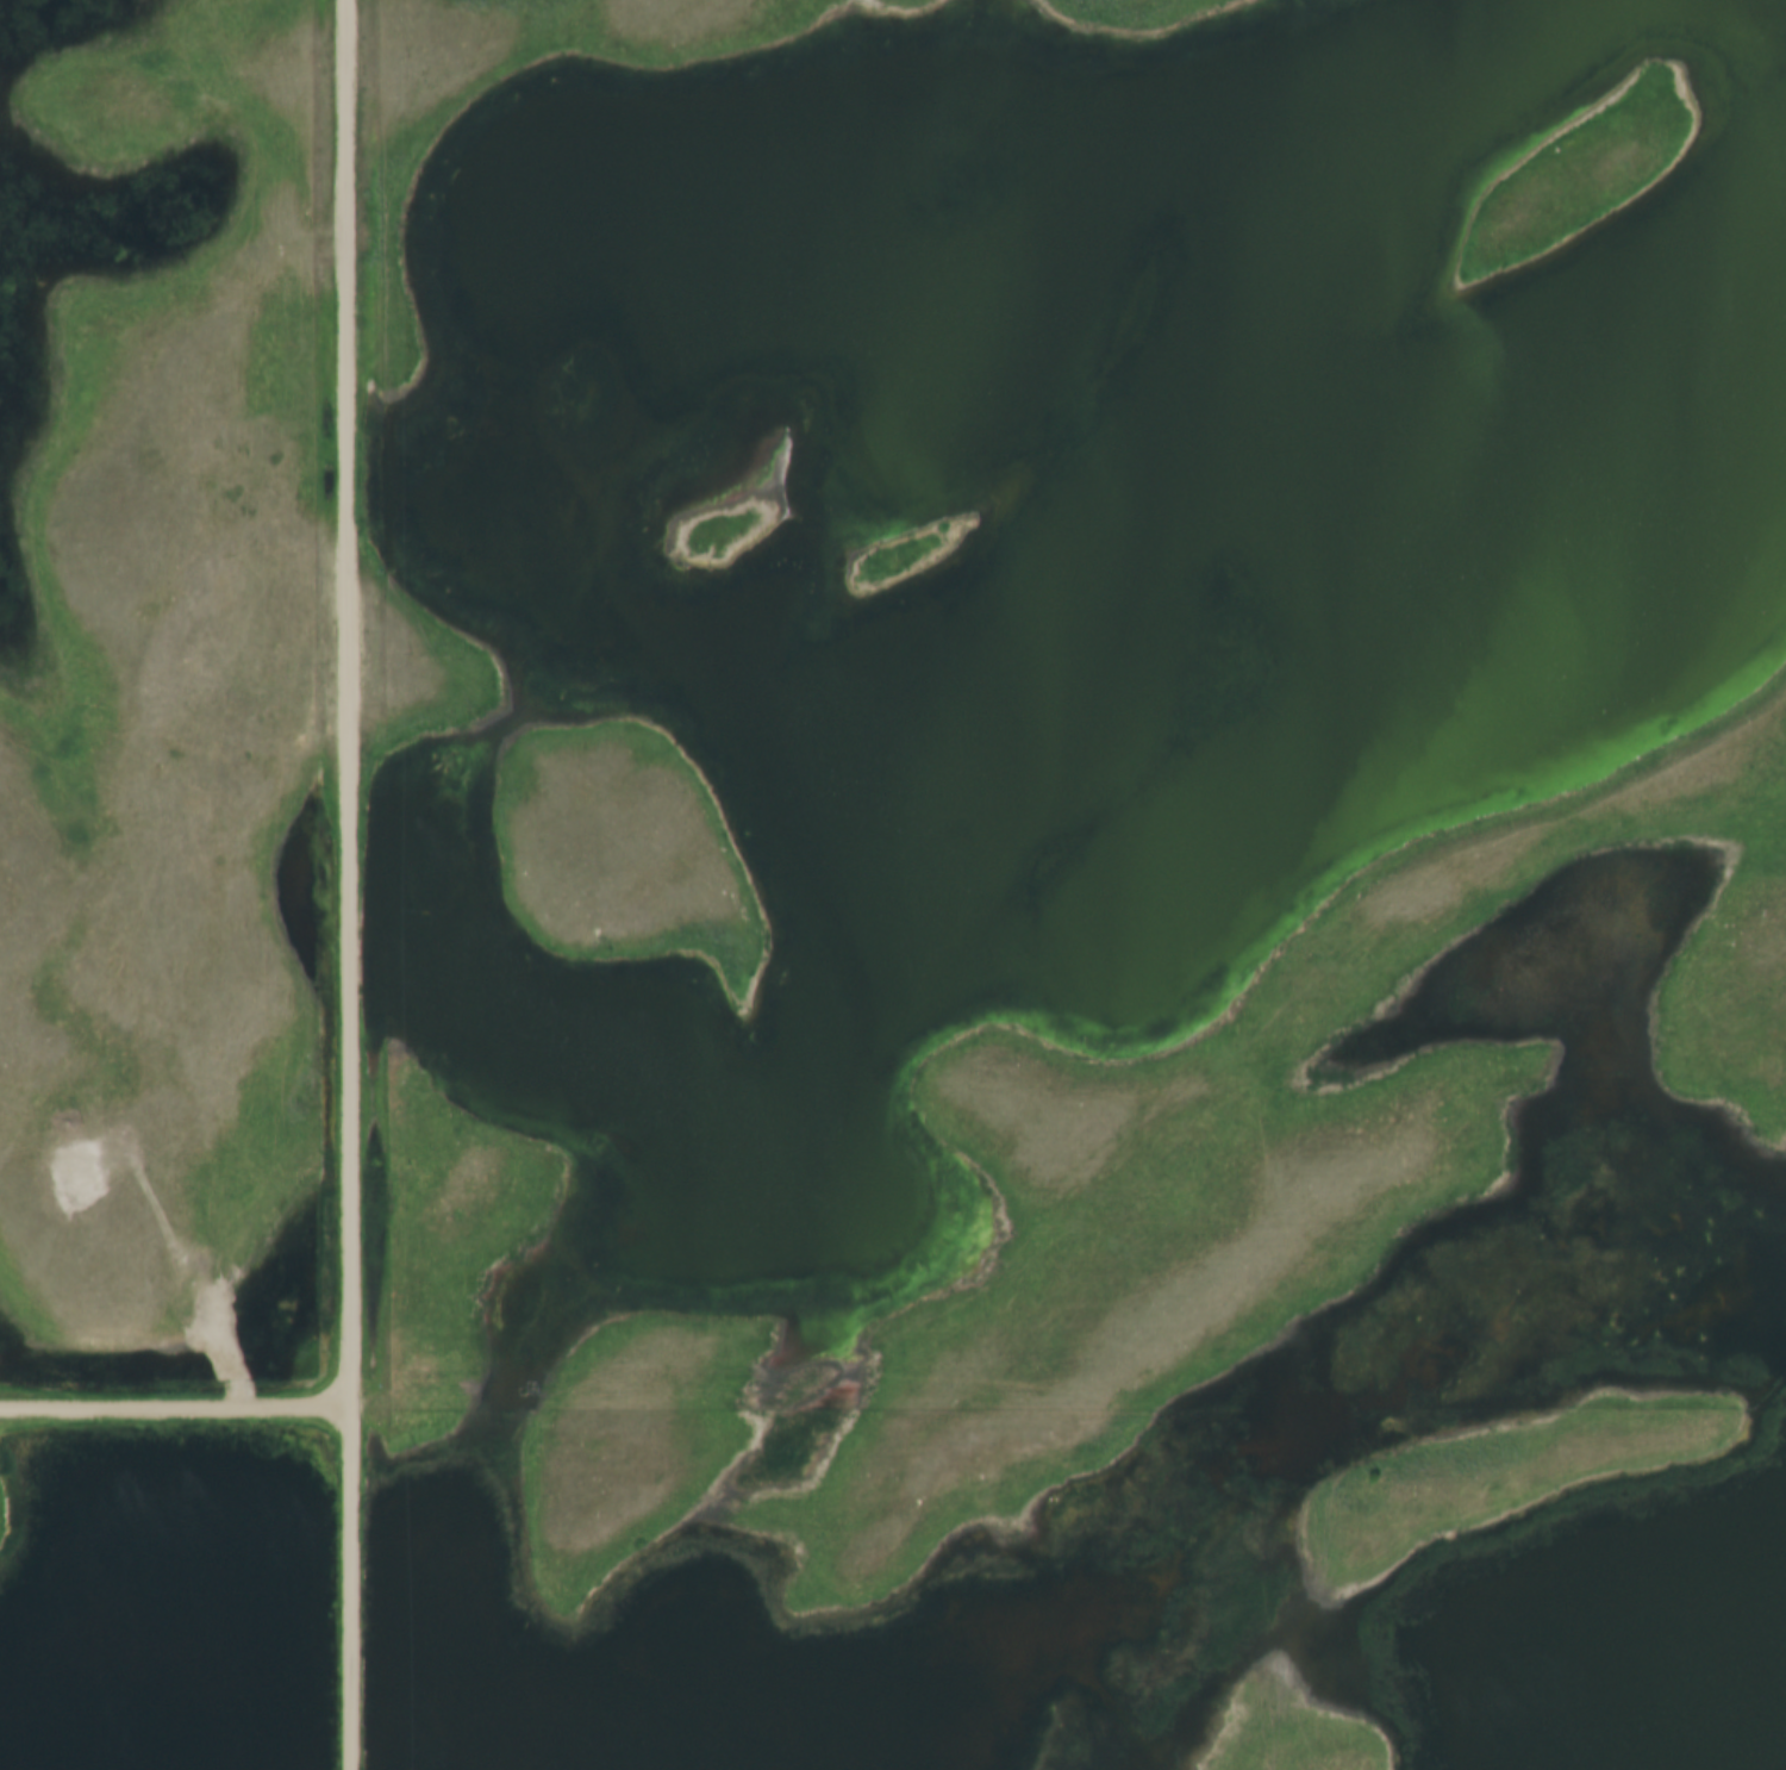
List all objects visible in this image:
road: (348, 884)
road: (175, 1406)

